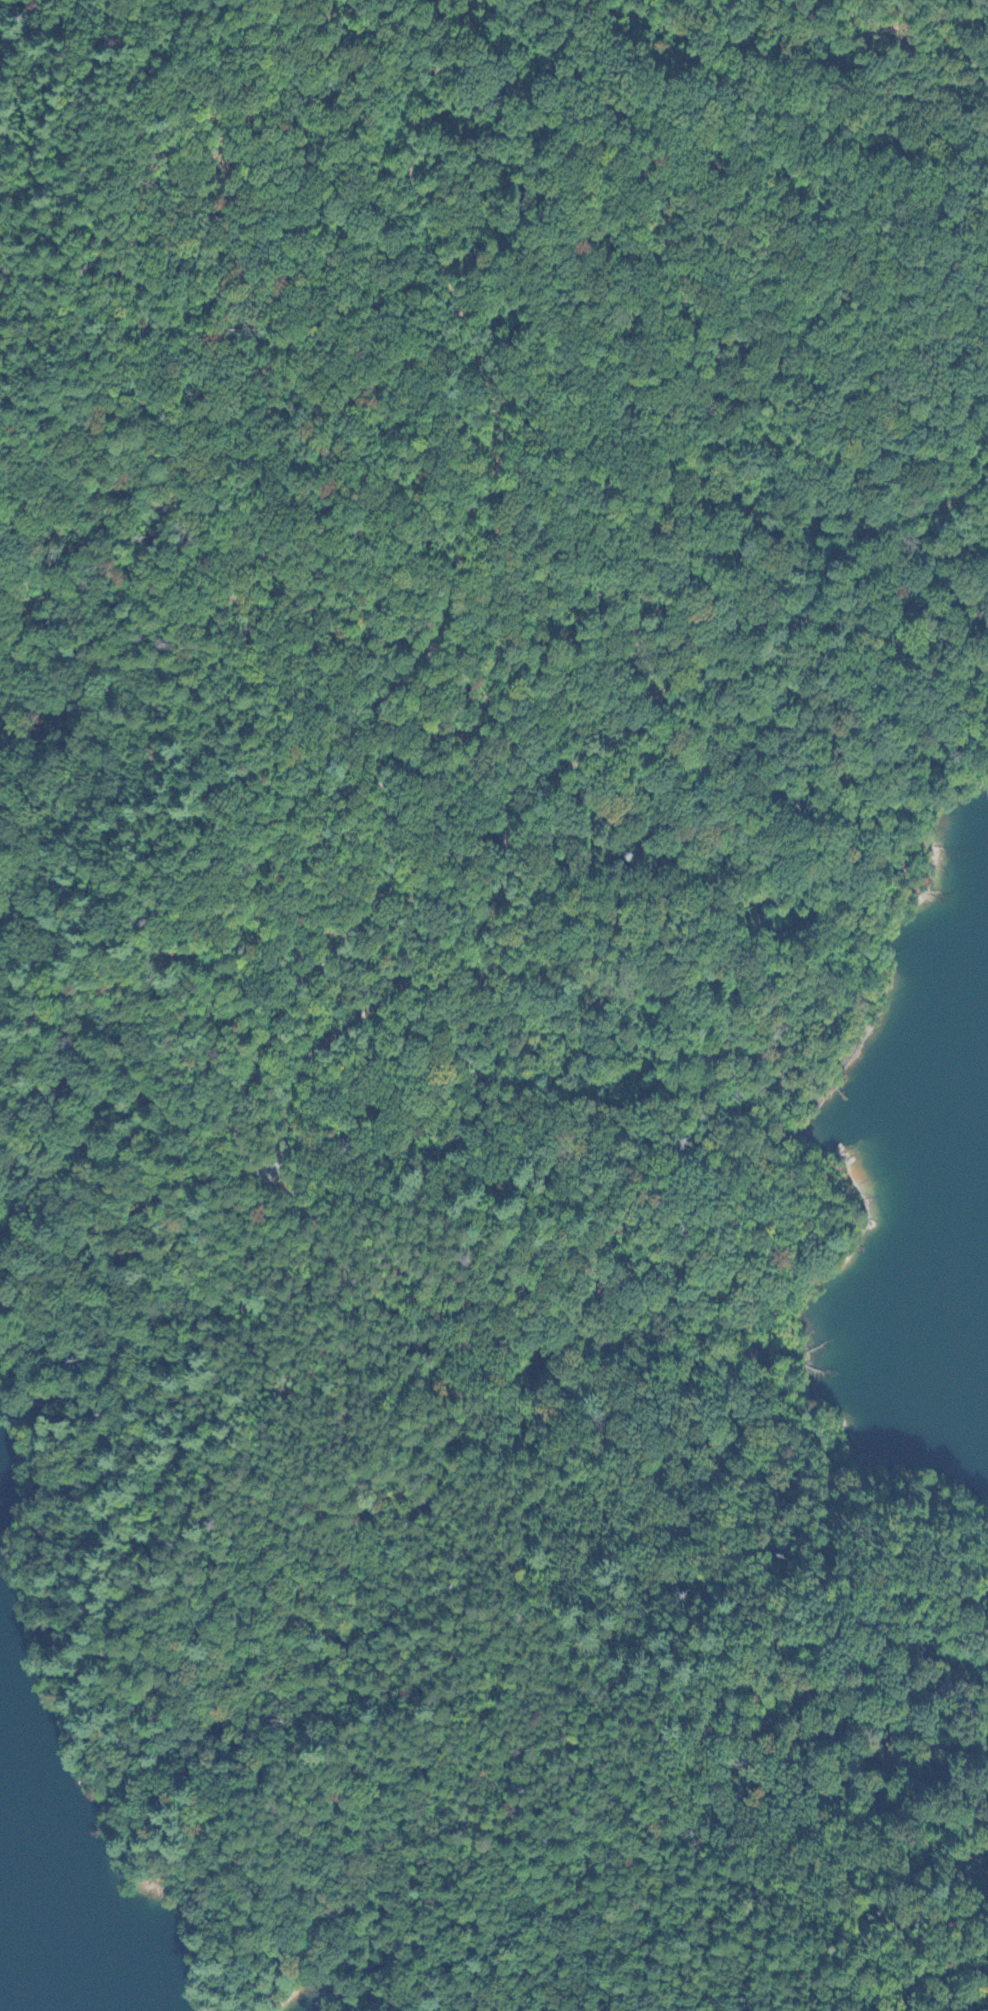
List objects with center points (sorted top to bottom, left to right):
road: (280, 1047)

